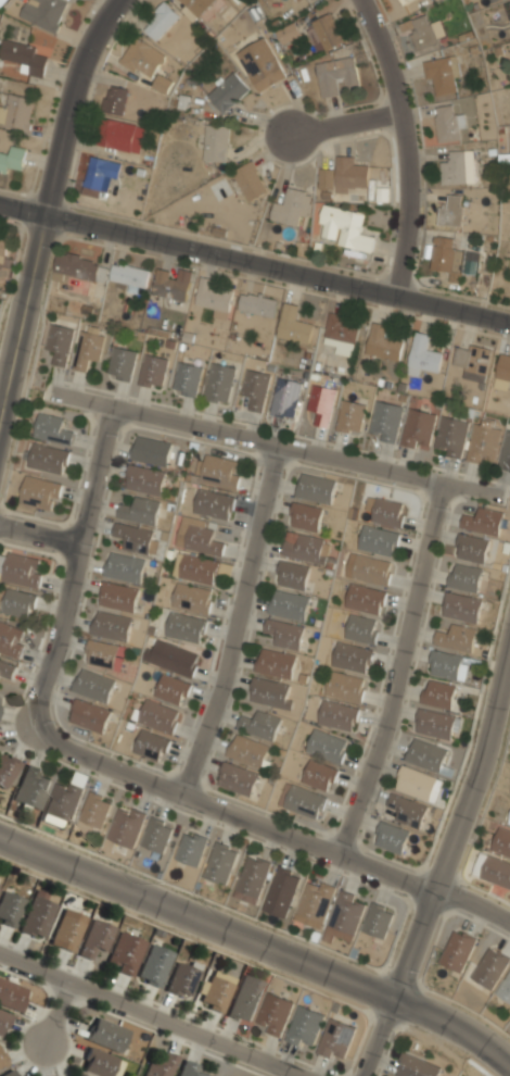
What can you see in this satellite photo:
building: (298, 0)
building: (493, 0)
building: (404, 1)
building: (2, 2)
building: (196, 5)
building: (508, 8)
building: (44, 13)
building: (160, 20)
building: (324, 30)
building: (288, 32)
building: (422, 32)
building: (29, 52)
building: (142, 57)
building: (262, 63)
building: (443, 74)
building: (337, 75)
building: (163, 83)
building: (228, 91)
building: (115, 100)
building: (16, 112)
road: (346, 120)
building: (449, 124)
building: (119, 135)
building: (215, 142)
road: (410, 142)
building: (12, 159)
building: (459, 167)
building: (350, 174)
building: (99, 176)
building: (326, 178)
building: (251, 180)
building: (293, 207)
road: (49, 209)
building: (450, 210)
building: (345, 227)
building: (3, 248)
building: (447, 255)
road: (255, 260)
building: (79, 266)
building: (130, 277)
building: (173, 284)
building: (214, 298)
building: (257, 304)
building: (293, 325)
building: (343, 327)
building: (59, 341)
building: (383, 343)
building: (88, 345)
building: (423, 353)
building: (472, 360)
building: (122, 363)
building: (152, 371)
building: (502, 371)
building: (187, 378)
building: (219, 383)
building: (255, 388)
building: (285, 397)
building: (321, 402)
building: (350, 416)
building: (384, 422)
building: (418, 428)
building: (52, 429)
building: (450, 436)
building: (484, 440)
road: (275, 441)
building: (151, 451)
building: (506, 451)
building: (48, 459)
building: (220, 472)
building: (144, 480)
building: (316, 488)
building: (40, 492)
building: (214, 503)
building: (140, 512)
building: (388, 512)
building: (306, 516)
building: (484, 521)
road: (40, 533)
building: (199, 538)
building: (136, 539)
building: (379, 540)
building: (305, 548)
building: (473, 548)
building: (124, 568)
building: (195, 568)
building: (369, 570)
building: (20, 571)
building: (293, 576)
road: (71, 577)
building: (466, 578)
building: (118, 598)
building: (192, 598)
building: (366, 599)
building: (18, 604)
building: (288, 606)
building: (462, 608)
road: (235, 620)
building: (112, 626)
building: (186, 627)
building: (362, 628)
building: (284, 634)
building: (457, 638)
building: (11, 640)
building: (103, 655)
building: (353, 658)
building: (175, 659)
building: (275, 664)
building: (449, 666)
road: (401, 670)
building: (7, 671)
building: (93, 686)
building: (345, 687)
building: (171, 690)
building: (270, 693)
building: (438, 696)
building: (337, 715)
building: (89, 716)
building: (157, 717)
building: (435, 725)
building: (260, 726)
building: (327, 746)
building: (151, 747)
building: (248, 752)
building: (425, 755)
building: (7, 771)
building: (319, 776)
building: (238, 779)
building: (417, 784)
building: (31, 789)
building: (63, 802)
building: (302, 802)
building: (94, 811)
building: (407, 812)
building: (509, 819)
road: (260, 823)
road: (455, 826)
building: (125, 828)
building: (156, 836)
building: (392, 838)
building: (501, 842)
building: (190, 850)
building: (219, 864)
building: (496, 873)
building: (251, 880)
building: (281, 892)
building: (313, 905)
building: (10, 909)
building: (37, 916)
building: (343, 918)
building: (377, 922)
building: (67, 930)
building: (94, 940)
road: (258, 946)
building: (457, 950)
building: (124, 954)
building: (153, 966)
building: (489, 967)
building: (181, 979)
building: (505, 988)
building: (215, 994)
building: (11, 996)
building: (245, 1000)
road: (61, 1010)
road: (150, 1014)
building: (273, 1014)
building: (3, 1023)
building: (305, 1027)
building: (106, 1035)
building: (336, 1039)
road: (375, 1039)
building: (2, 1060)
building: (97, 1063)
building: (160, 1066)
building: (416, 1067)
building: (190, 1069)
building: (9, 1074)

